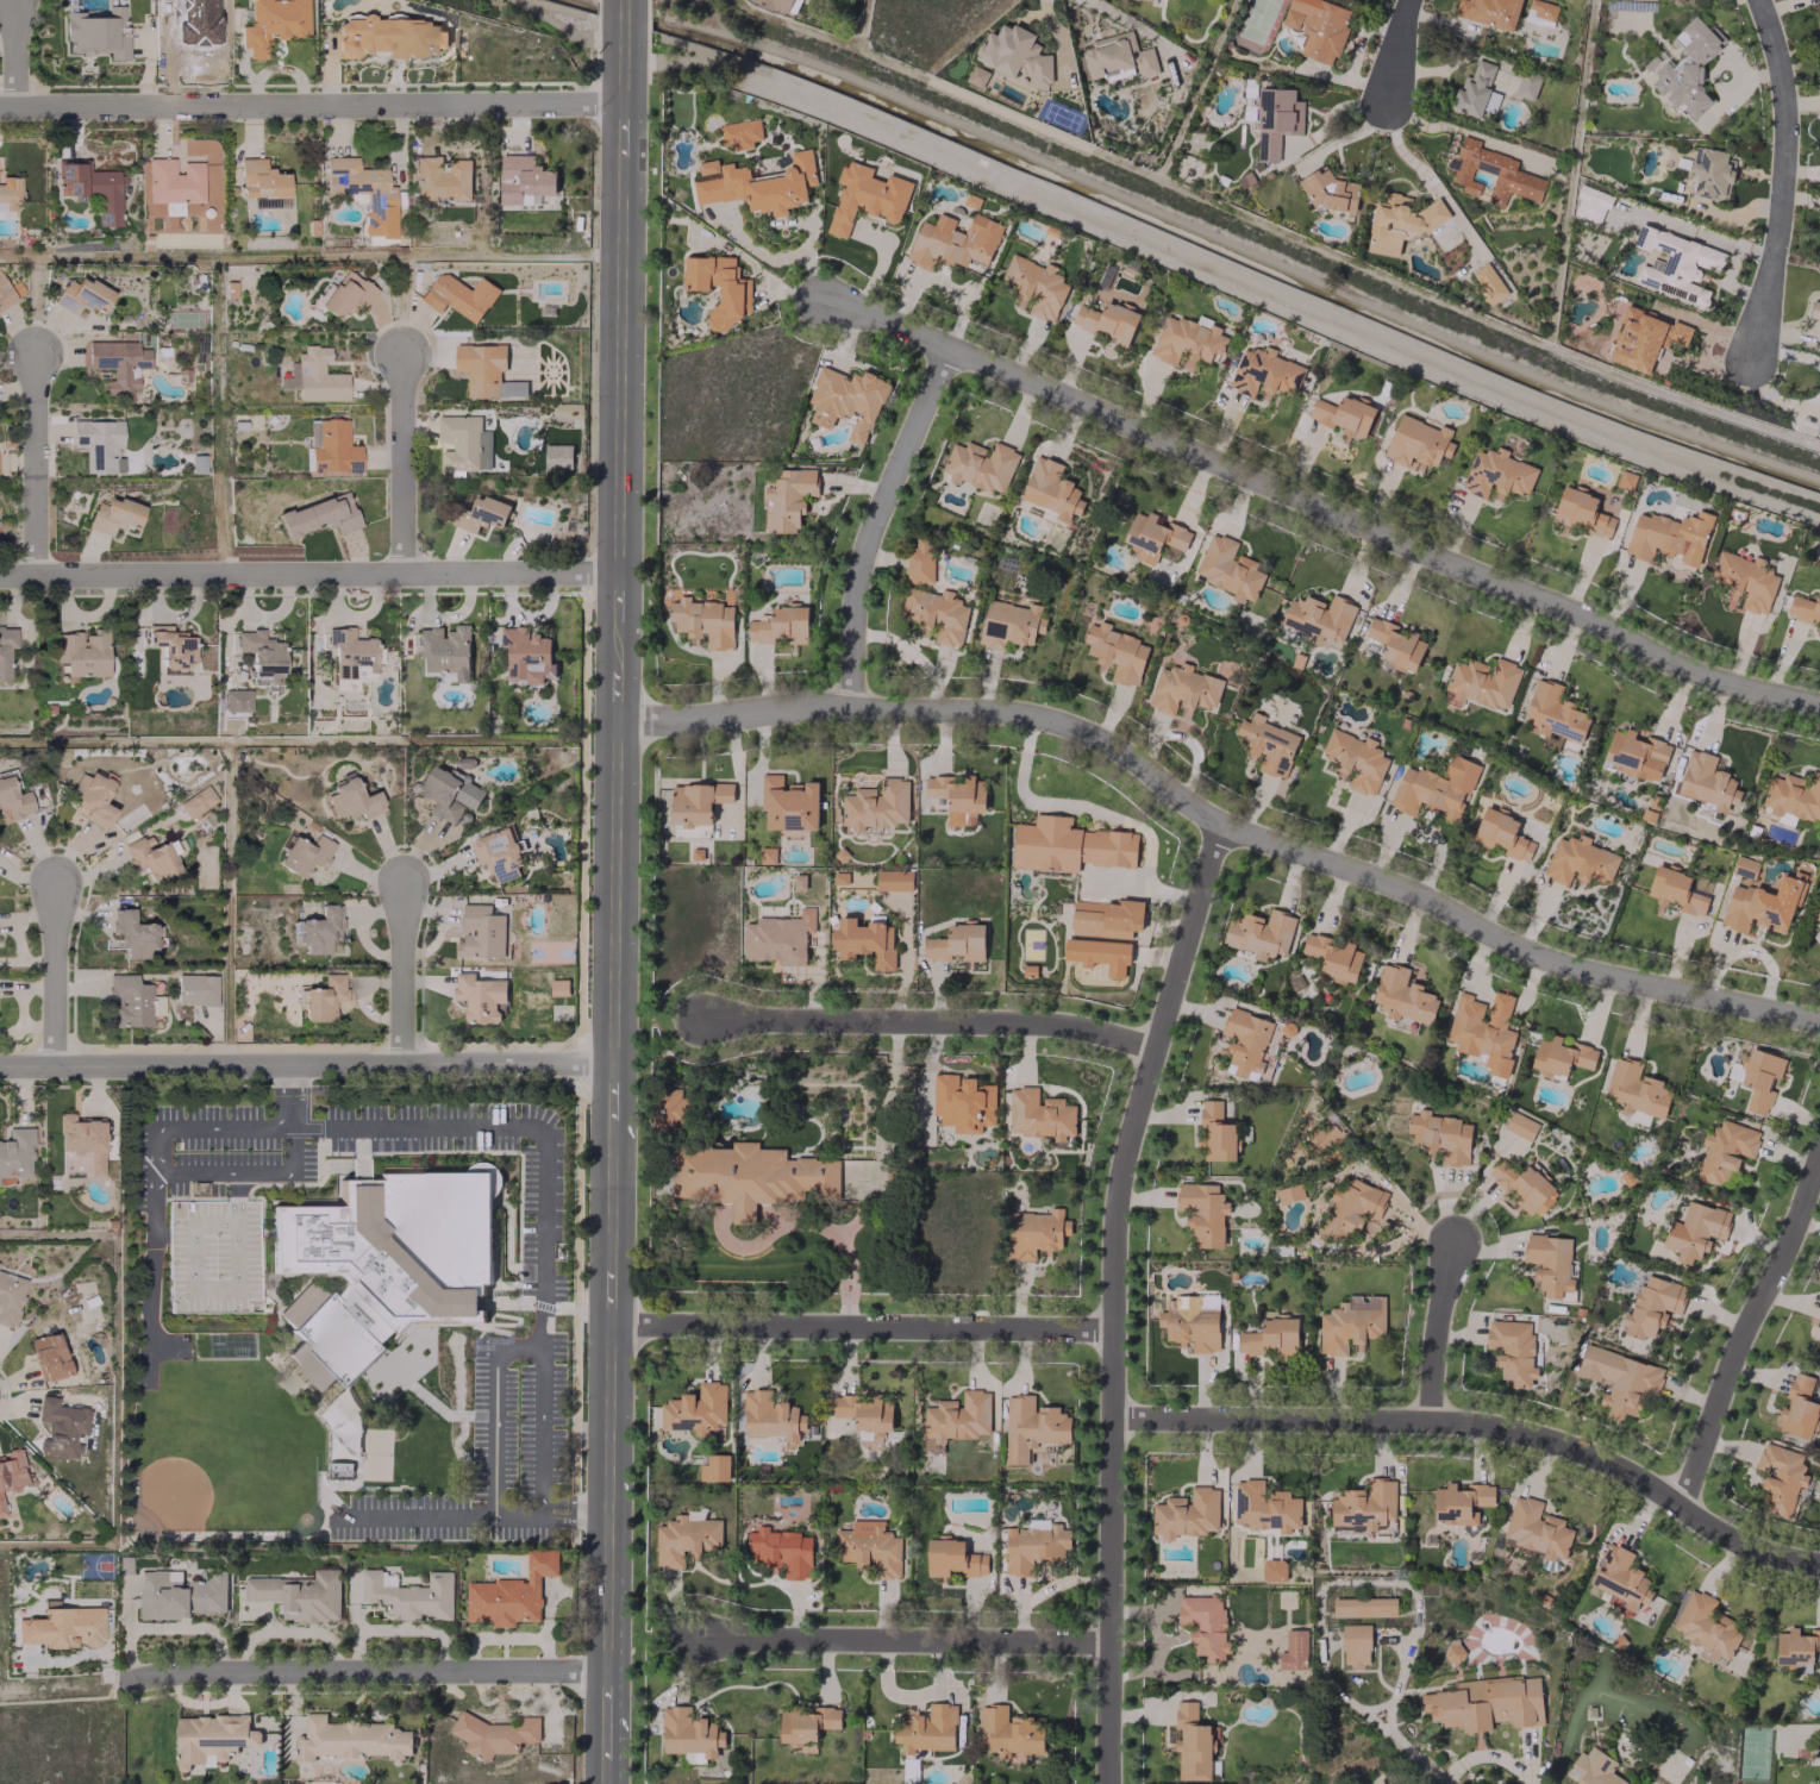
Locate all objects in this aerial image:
building: (1165, 0)
building: (780, 5)
building: (1541, 10)
building: (1819, 11)
building: (1488, 12)
building: (270, 24)
road: (562, 26)
building: (1316, 27)
building: (95, 32)
building: (387, 37)
road: (1396, 50)
road: (13, 52)
building: (1015, 55)
building: (1118, 56)
building: (1685, 67)
building: (976, 76)
building: (1526, 84)
building: (1475, 90)
road: (306, 107)
building: (1249, 113)
building: (1276, 120)
road: (1319, 127)
road: (1463, 130)
building: (740, 133)
road: (1345, 138)
road: (1409, 162)
building: (1503, 171)
building: (1709, 174)
road: (1782, 177)
building: (440, 179)
building: (524, 180)
building: (173, 181)
building: (261, 181)
building: (755, 184)
building: (90, 187)
building: (10, 192)
building: (363, 192)
building: (1331, 192)
building: (865, 196)
building: (1590, 204)
building: (171, 207)
building: (6, 214)
building: (1400, 221)
building: (1819, 239)
building: (952, 242)
road: (765, 256)
building: (1675, 264)
road: (812, 273)
building: (1488, 283)
building: (719, 287)
building: (1036, 287)
building: (5, 293)
building: (346, 294)
building: (82, 295)
building: (458, 295)
building: (1814, 311)
building: (1106, 321)
building: (1644, 338)
building: (1187, 340)
building: (118, 363)
building: (486, 371)
building: (1263, 374)
building: (318, 375)
building: (846, 401)
building: (1343, 415)
building: (1819, 426)
building: (463, 443)
building: (1418, 443)
building: (98, 444)
building: (333, 447)
building: (557, 456)
road: (399, 463)
road: (33, 464)
building: (981, 465)
building: (1496, 475)
building: (1051, 489)
building: (787, 497)
road: (1319, 505)
building: (479, 512)
building: (1581, 512)
building: (113, 514)
building: (319, 515)
road: (867, 522)
building: (1152, 537)
building: (1668, 537)
building: (919, 562)
building: (1227, 569)
road: (306, 572)
building: (1745, 580)
building: (1805, 609)
building: (936, 616)
building: (1318, 619)
building: (702, 622)
building: (1009, 624)
building: (778, 625)
building: (1395, 643)
building: (170, 645)
building: (6, 649)
building: (444, 650)
building: (82, 651)
building: (261, 652)
building: (351, 653)
building: (1117, 653)
building: (526, 655)
building: (1482, 682)
building: (1182, 690)
building: (236, 700)
building: (1553, 713)
road: (615, 722)
building: (1267, 744)
building: (1634, 755)
building: (1355, 760)
building: (1707, 782)
building: (1434, 788)
building: (449, 793)
building: (92, 796)
building: (13, 797)
building: (958, 797)
building: (1793, 797)
building: (351, 799)
building: (196, 801)
building: (696, 802)
building: (788, 803)
road: (1070, 805)
building: (875, 806)
road: (1218, 826)
road: (1418, 827)
building: (1501, 834)
building: (1068, 845)
building: (304, 853)
building: (498, 853)
building: (767, 856)
building: (1578, 860)
building: (1744, 866)
building: (893, 880)
building: (798, 882)
building: (1675, 890)
building: (1762, 904)
building: (1816, 914)
building: (1105, 919)
building: (315, 929)
building: (481, 932)
building: (131, 933)
building: (1259, 934)
building: (777, 938)
building: (864, 941)
building: (956, 943)
building: (1099, 954)
building: (1333, 957)
road: (1480, 959)
road: (1532, 974)
road: (55, 975)
road: (399, 977)
building: (195, 988)
building: (479, 996)
building: (1402, 996)
building: (323, 997)
building: (129, 1001)
road: (1501, 1001)
road: (931, 1016)
building: (1483, 1029)
building: (1245, 1041)
building: (1559, 1056)
road: (305, 1065)
building: (1757, 1077)
building: (1636, 1089)
road: (286, 1091)
building: (962, 1102)
building: (670, 1110)
building: (1039, 1114)
building: (1519, 1126)
road: (208, 1127)
building: (1217, 1133)
building: (1440, 1135)
building: (82, 1138)
building: (1725, 1151)
building: (15, 1154)
road: (150, 1166)
road: (244, 1172)
building: (749, 1177)
building: (1524, 1187)
building: (1288, 1194)
building: (1350, 1209)
building: (1201, 1213)
road: (544, 1225)
building: (1694, 1231)
building: (1034, 1232)
building: (384, 1263)
building: (1549, 1263)
road: (842, 1267)
road: (149, 1270)
building: (10, 1296)
road: (1115, 1298)
building: (1652, 1307)
building: (1819, 1322)
road: (862, 1325)
building: (1190, 1325)
building: (1350, 1325)
road: (1432, 1327)
road: (1751, 1335)
building: (1269, 1338)
road: (512, 1346)
building: (1512, 1350)
building: (48, 1356)
building: (1620, 1381)
building: (1799, 1407)
building: (695, 1409)
building: (864, 1415)
building: (956, 1419)
road: (1484, 1426)
building: (60, 1427)
building: (1031, 1427)
road: (494, 1440)
building: (714, 1467)
building: (11, 1470)
building: (1780, 1478)
building: (1461, 1502)
building: (1364, 1504)
building: (1264, 1507)
building: (1, 1508)
road: (517, 1511)
building: (1187, 1513)
road: (425, 1516)
building: (1536, 1528)
building: (1033, 1547)
building: (869, 1548)
building: (781, 1551)
building: (952, 1558)
building: (1272, 1570)
building: (509, 1594)
building: (179, 1595)
building: (299, 1595)
building: (409, 1595)
building: (1363, 1607)
road: (605, 1614)
building: (62, 1626)
building: (1203, 1626)
building: (1705, 1627)
road: (908, 1638)
building: (1355, 1646)
building: (1795, 1646)
building: (1294, 1650)
building: (1452, 1651)
road: (359, 1672)
road: (58, 1690)
building: (1486, 1703)
building: (806, 1723)
building: (926, 1728)
building: (1007, 1732)
building: (493, 1734)
building: (689, 1735)
building: (211, 1738)
building: (354, 1739)
building: (1192, 1744)
building: (1819, 1747)
road: (1484, 1758)
building: (1591, 1769)

